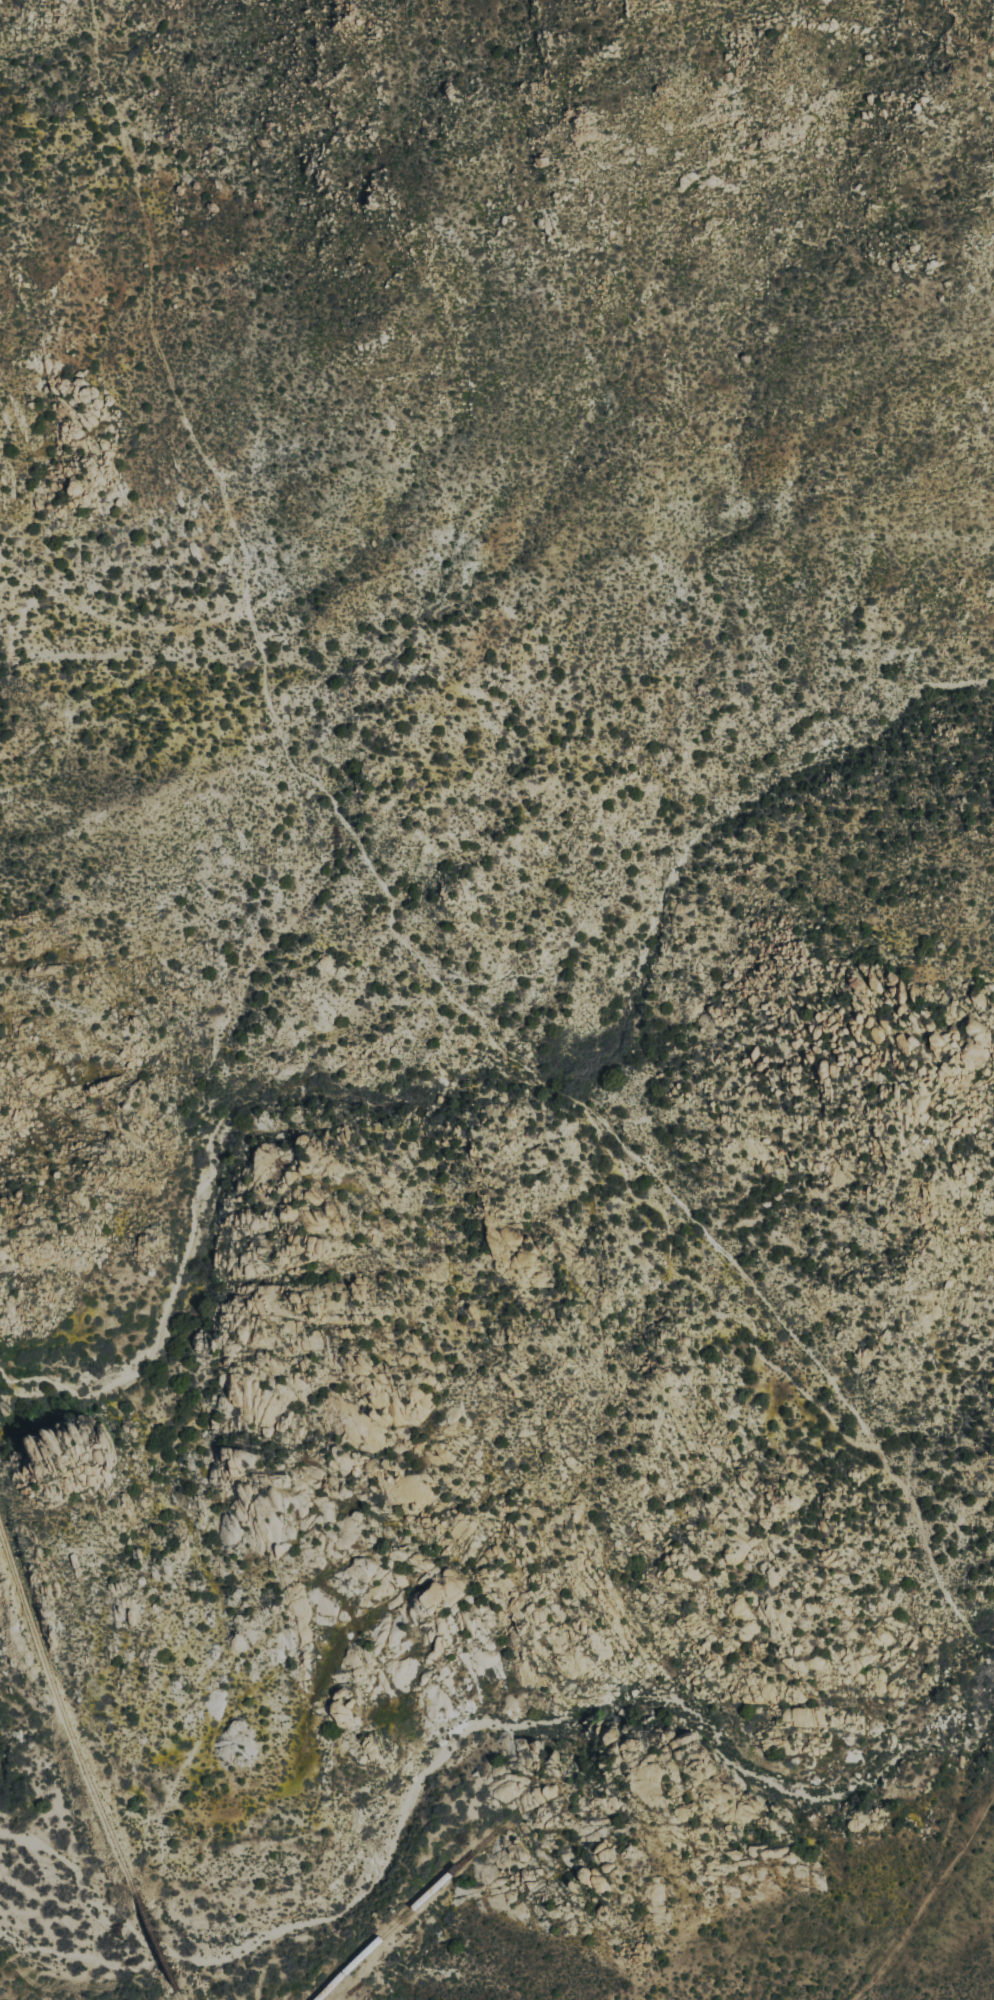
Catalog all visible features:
road: (114, 622)
road: (383, 912)
railway: (63, 1720)
road: (86, 1763)
road: (925, 1895)
railway: (394, 1924)
railway: (155, 1943)
railway: (178, 1996)

